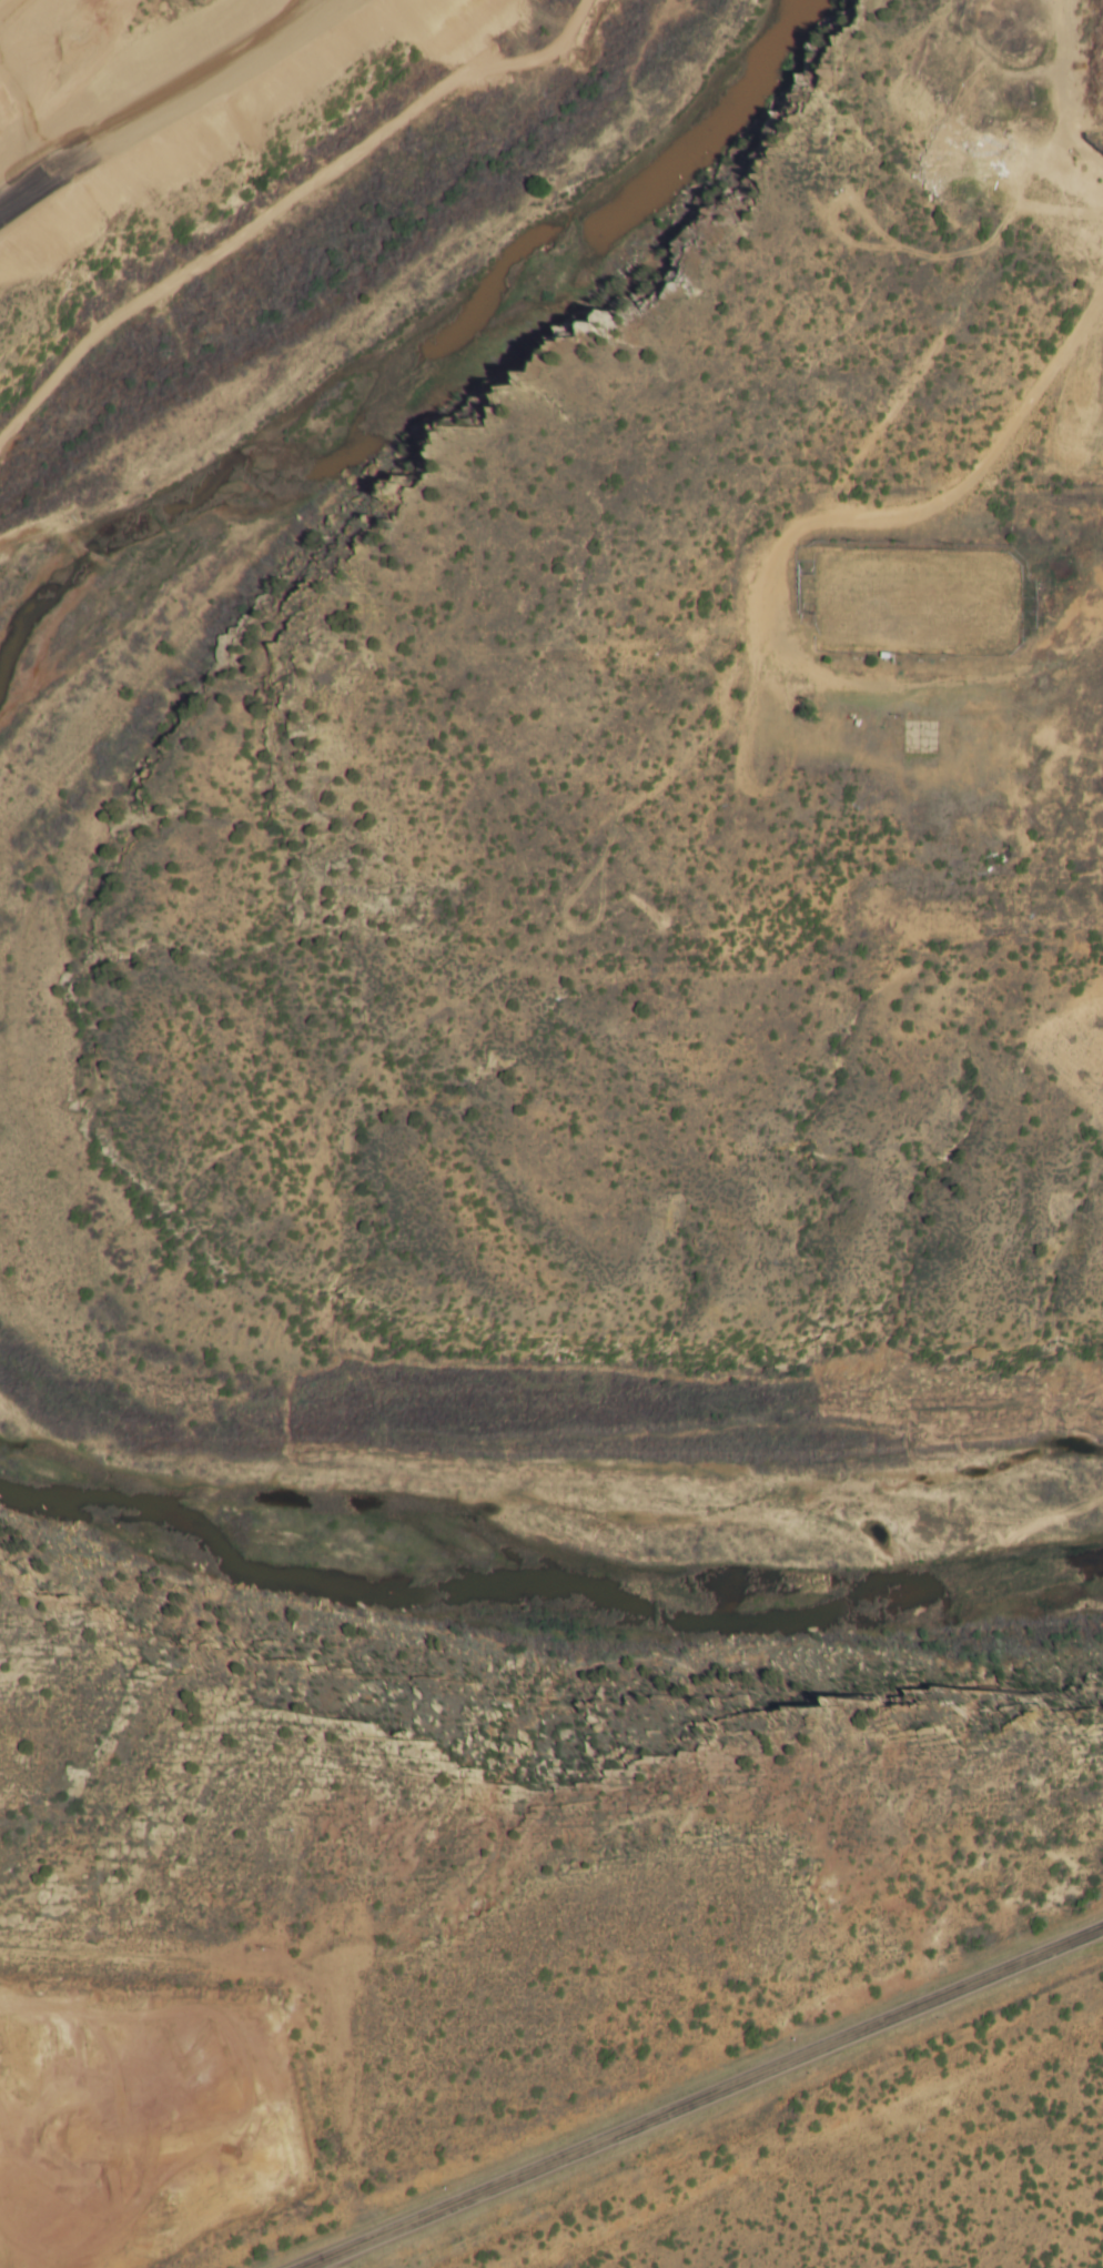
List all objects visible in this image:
road: (168, 111)
river: (421, 353)
river: (535, 1609)
road: (705, 2096)

